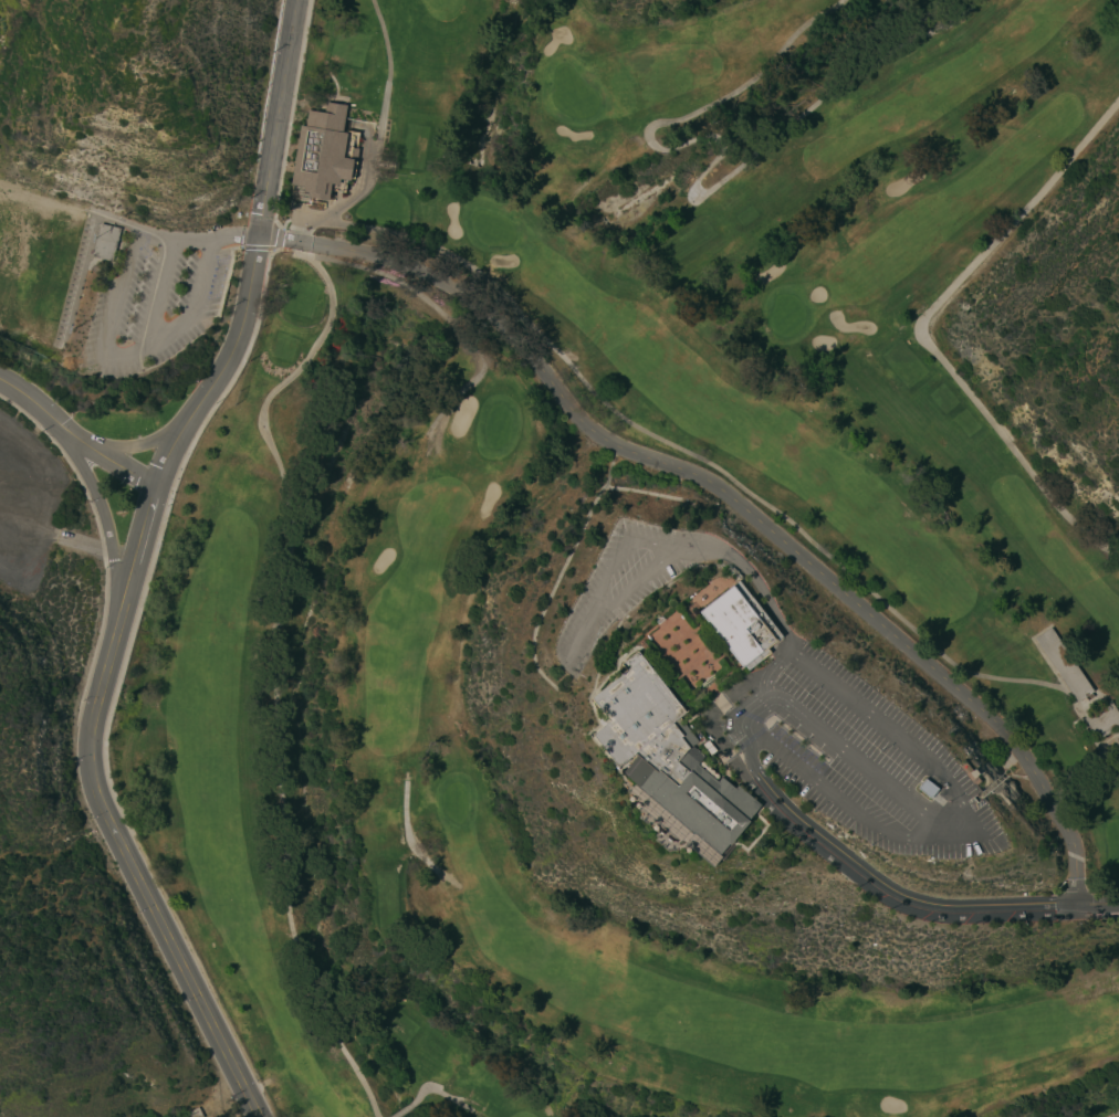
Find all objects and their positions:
building: (322, 151)
road: (709, 171)
road: (42, 199)
road: (347, 200)
road: (170, 240)
building: (106, 242)
road: (156, 289)
parking lot: (161, 294)
road: (920, 327)
road: (126, 349)
road: (617, 412)
road: (73, 436)
road: (133, 446)
road: (729, 496)
parking lot: (25, 507)
road: (107, 516)
road: (85, 541)
road: (132, 566)
park: (321, 576)
parking lot: (631, 579)
building: (740, 624)
road: (575, 625)
road: (786, 643)
building: (1064, 664)
building: (1102, 719)
road: (736, 731)
road: (856, 755)
building: (666, 756)
parking lot: (867, 758)
building: (989, 769)
building: (969, 772)
road: (964, 826)
road: (890, 887)

